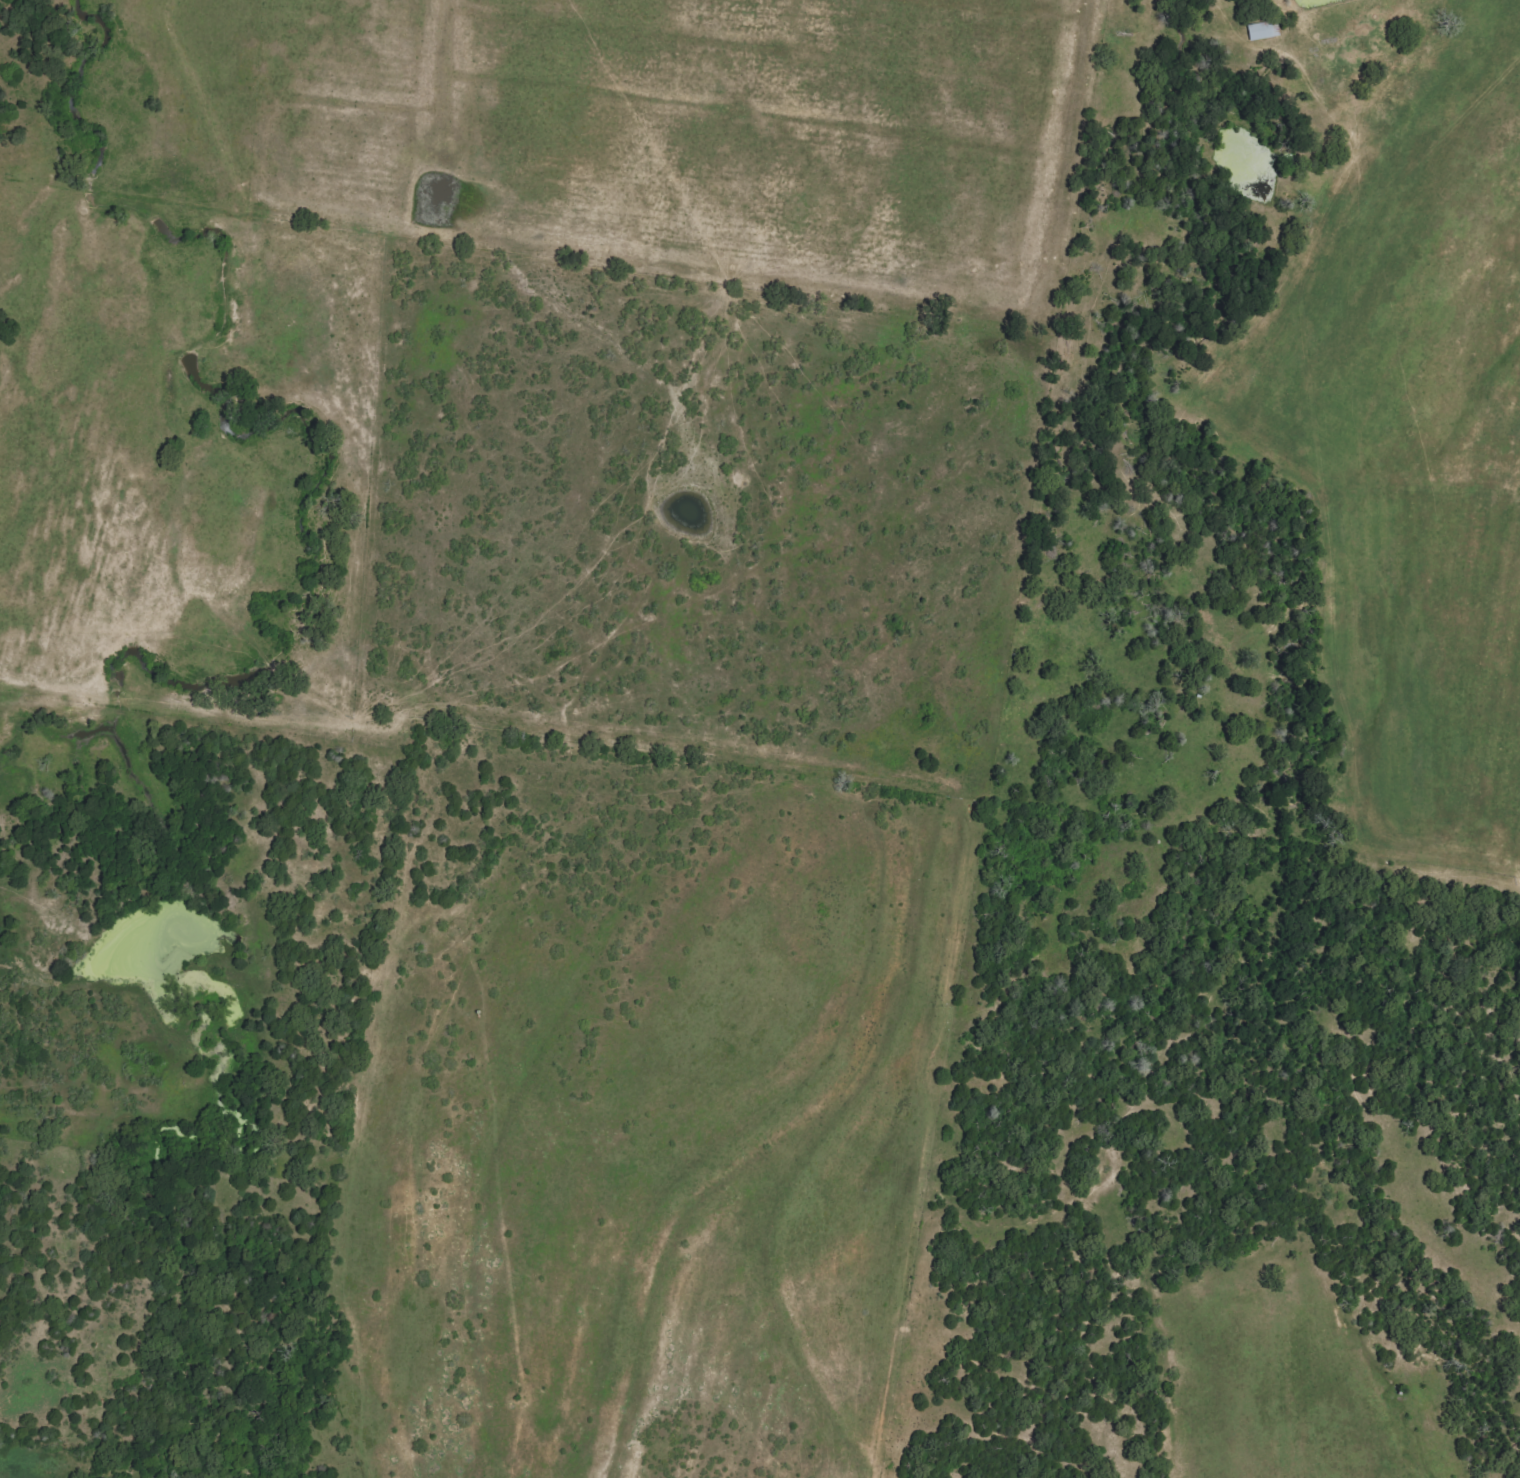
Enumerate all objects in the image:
building: (1264, 30)

